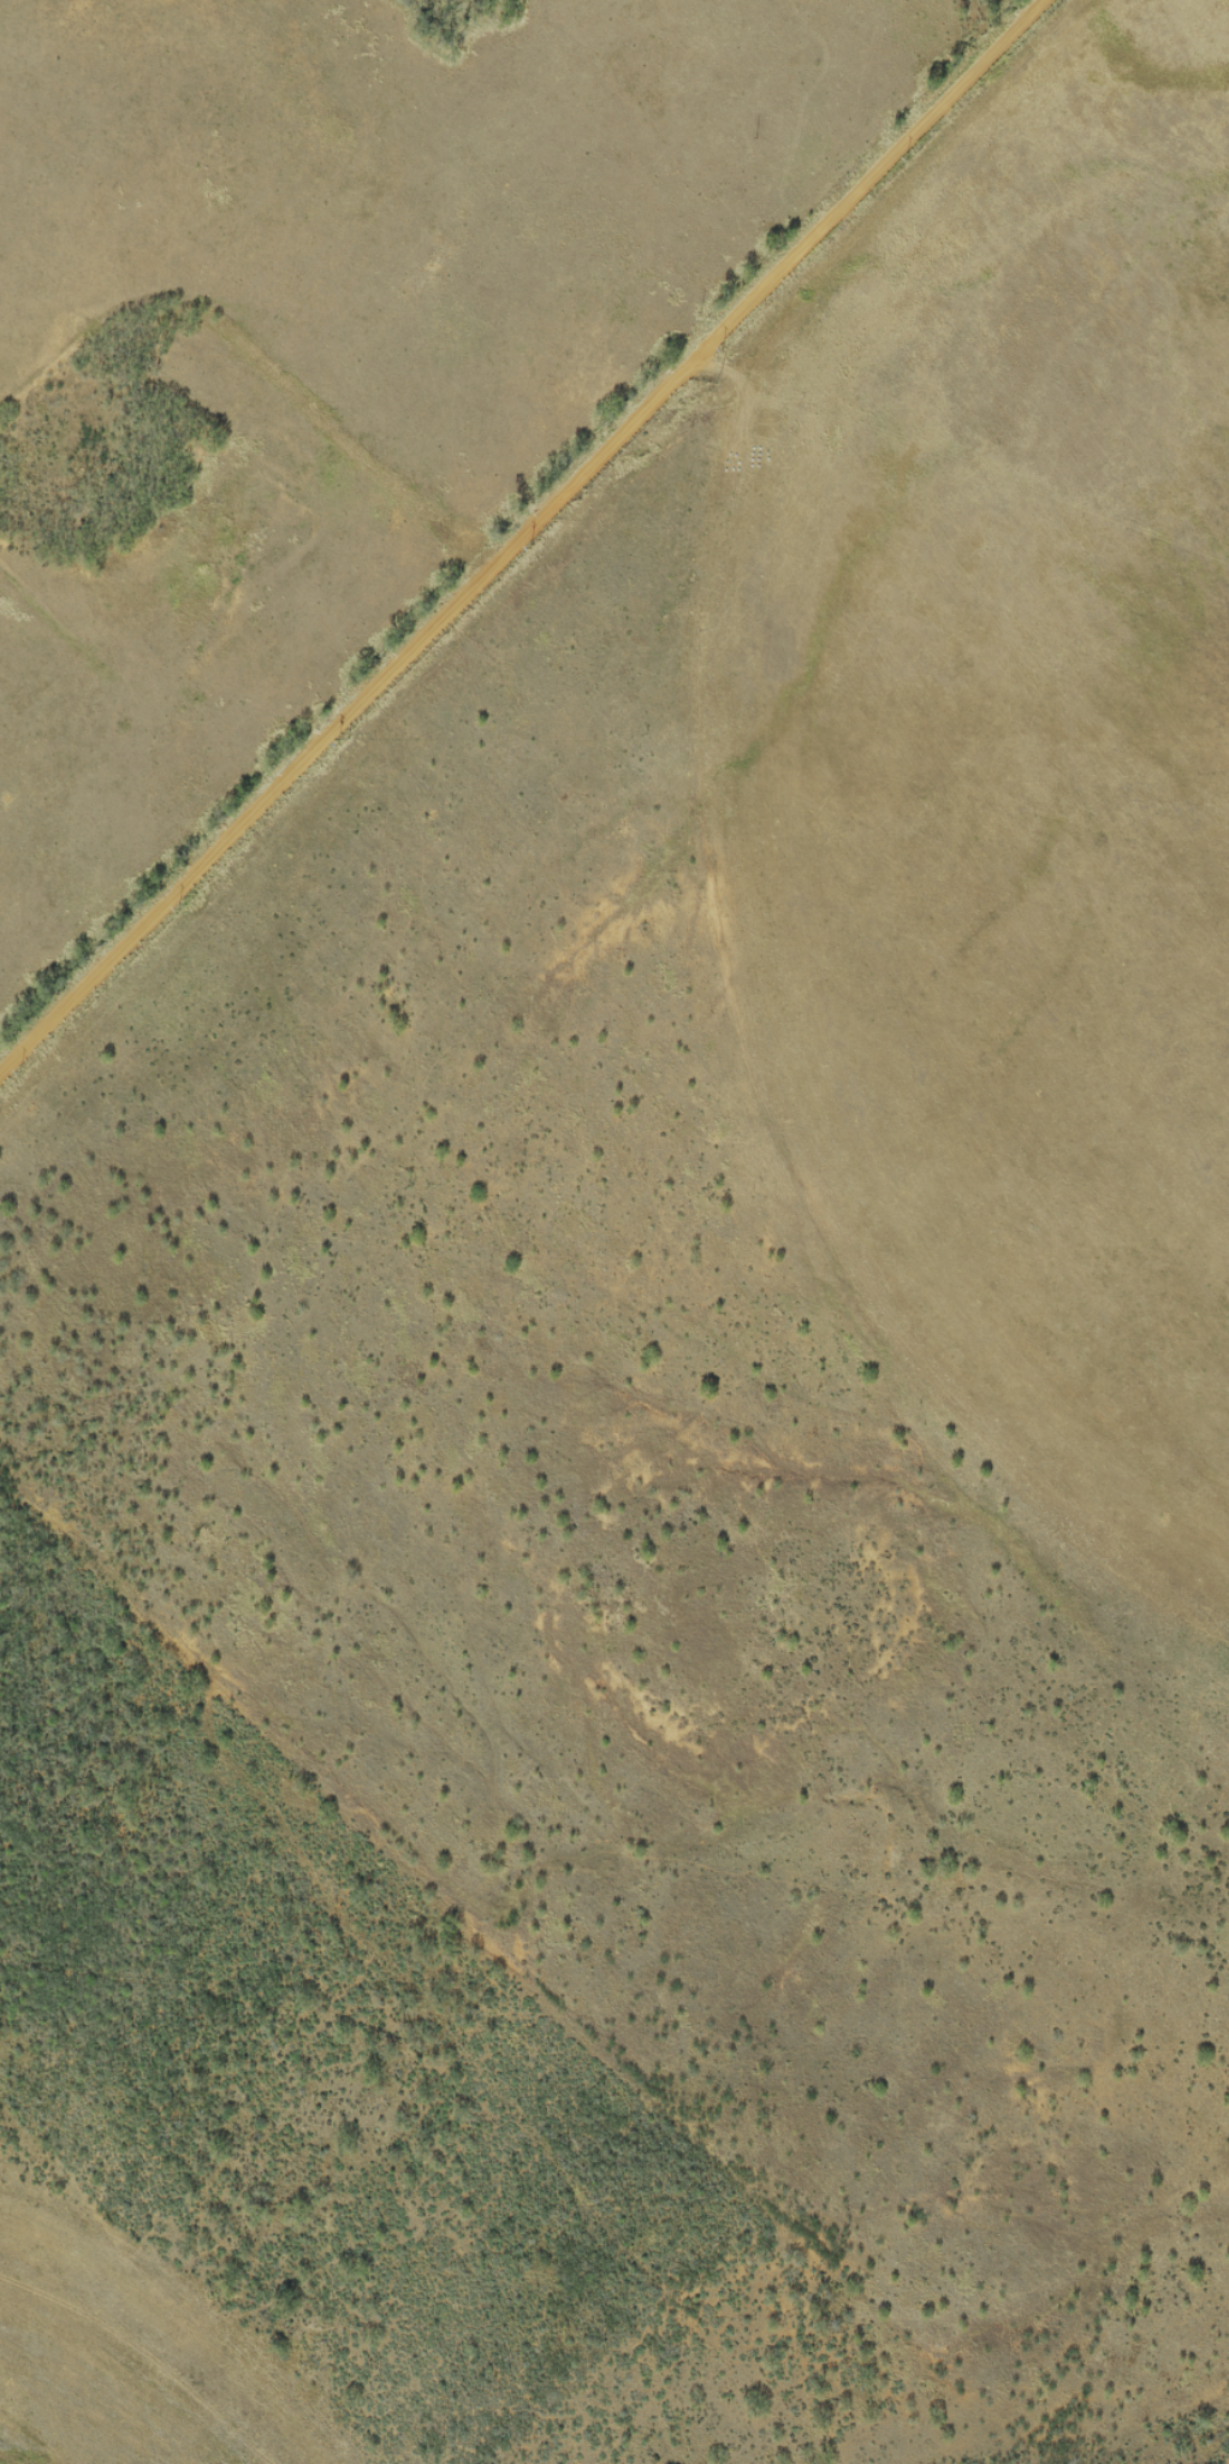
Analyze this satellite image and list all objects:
road: (507, 531)
road: (961, 594)

